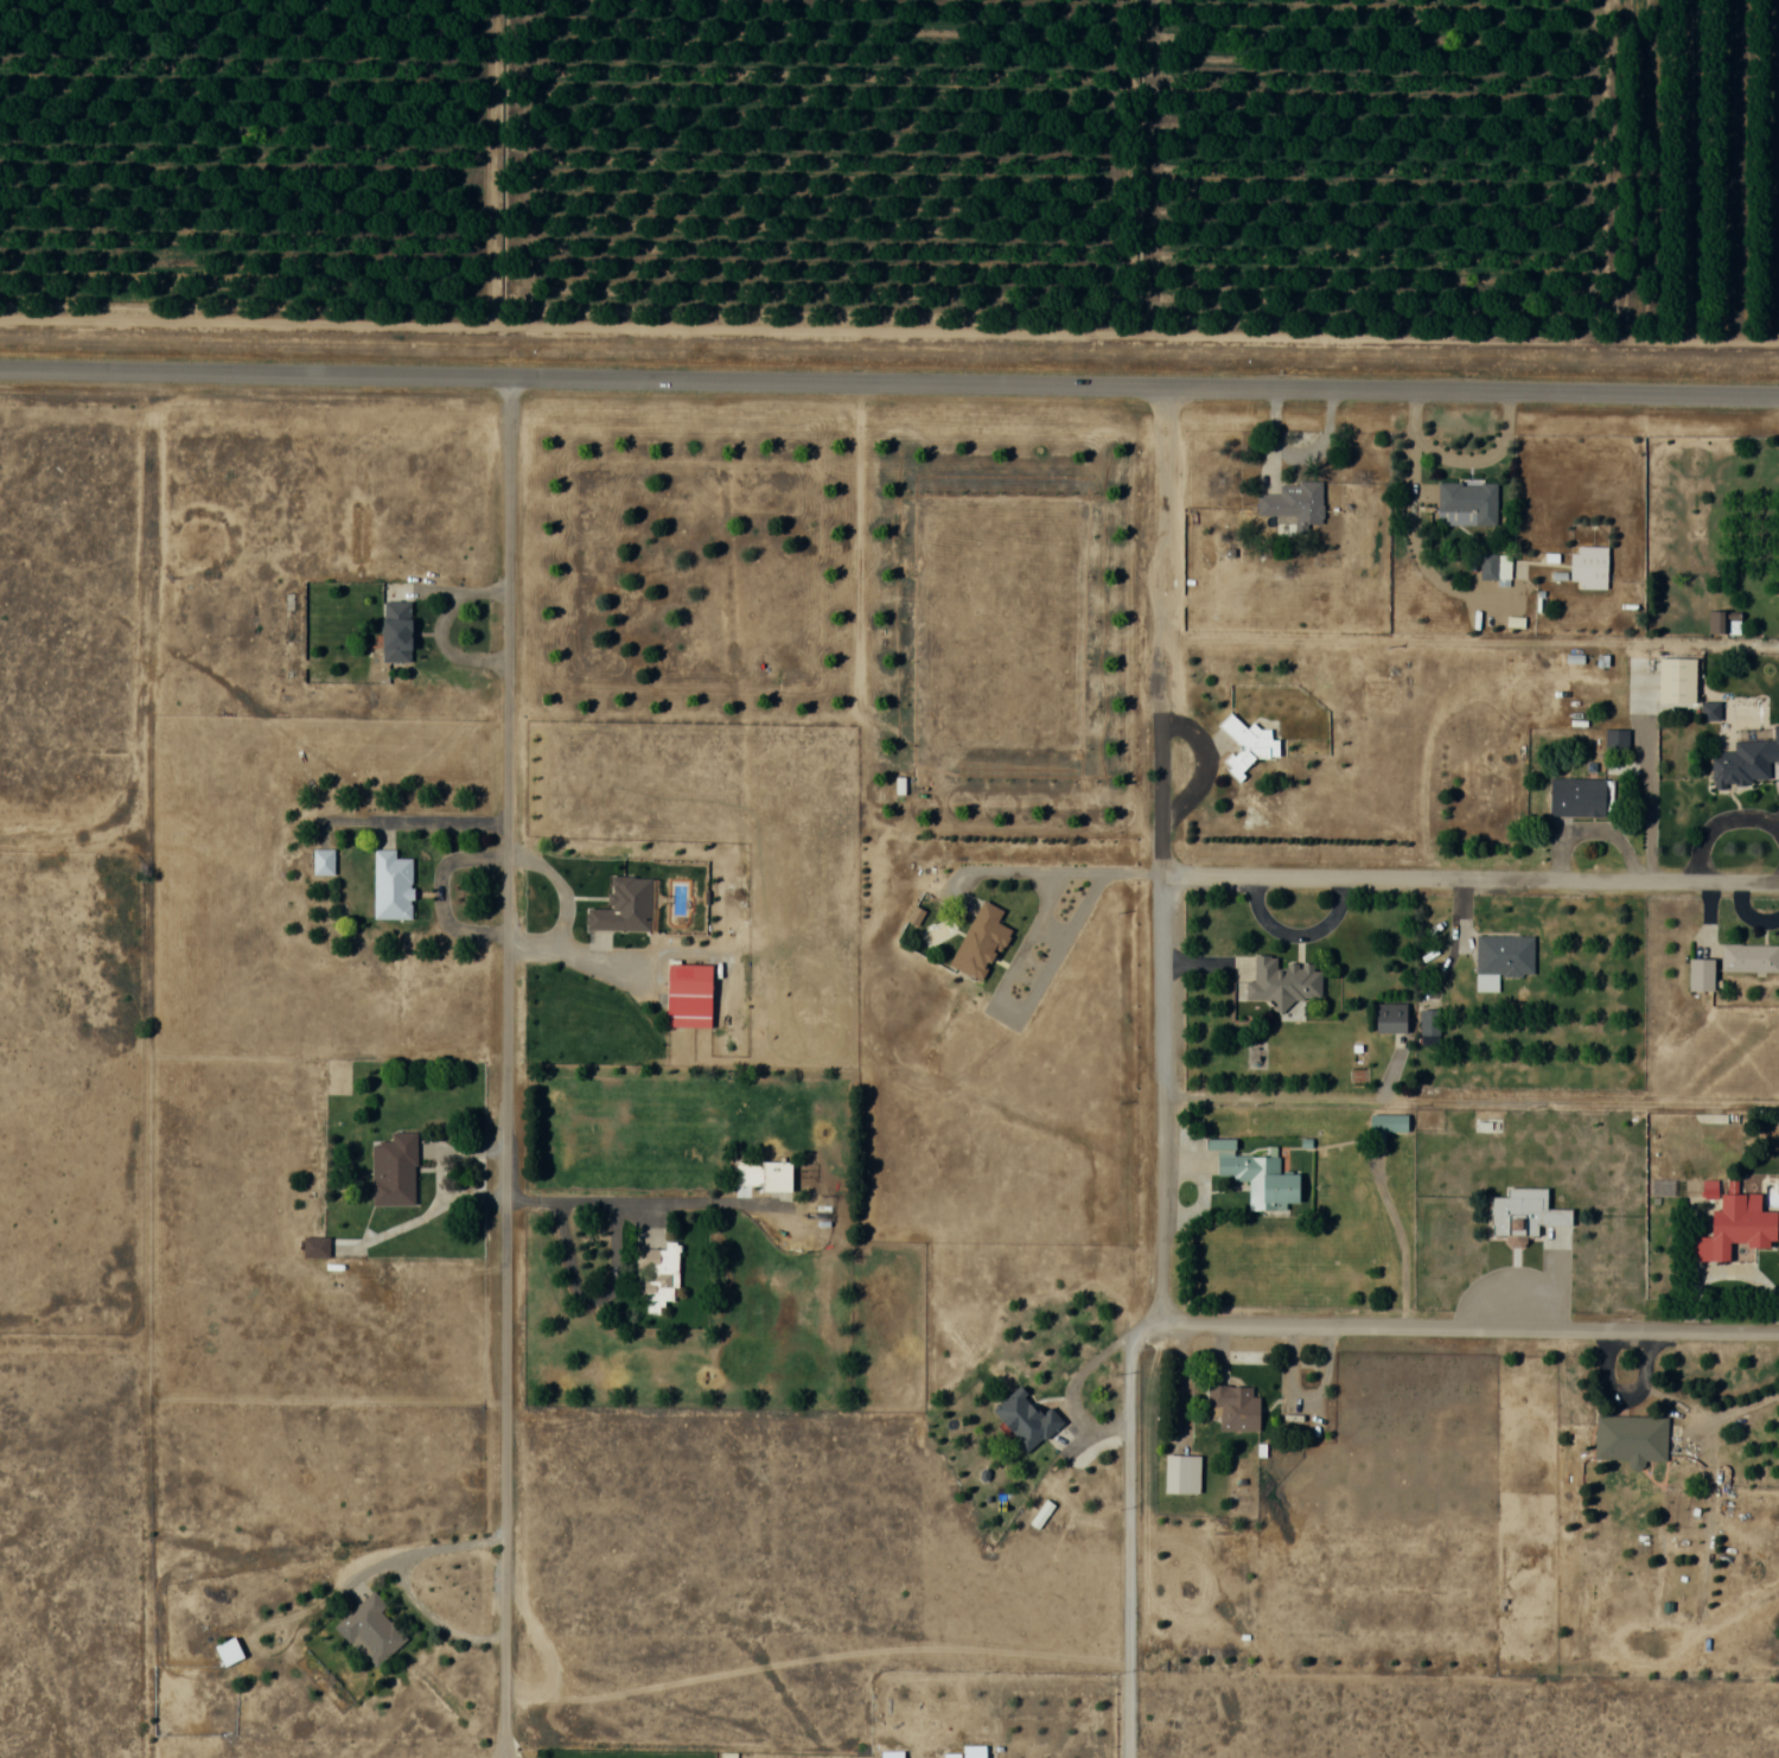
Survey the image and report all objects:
road: (889, 383)
building: (1293, 503)
building: (1467, 503)
building: (1589, 567)
building: (1719, 624)
building: (396, 631)
building: (1617, 740)
building: (1246, 745)
building: (1742, 765)
building: (1580, 797)
road: (1163, 854)
building: (323, 862)
road: (1471, 878)
building: (390, 885)
building: (624, 905)
building: (980, 943)
building: (1504, 955)
building: (1749, 957)
building: (1701, 974)
building: (1282, 982)
building: (689, 983)
building: (1390, 1017)
building: (1428, 1025)
road: (166, 1065)
road: (508, 1068)
road: (1469, 1100)
building: (1385, 1127)
building: (394, 1170)
building: (776, 1174)
building: (1261, 1180)
building: (1528, 1218)
building: (1735, 1228)
building: (315, 1246)
building: (657, 1275)
road: (1467, 1327)
road: (78, 1336)
building: (1236, 1408)
building: (1025, 1420)
building: (1631, 1438)
building: (1181, 1473)
road: (1129, 1536)
building: (370, 1630)
building: (228, 1650)
road: (694, 1744)
building: (968, 1752)
building: (891, 1753)

